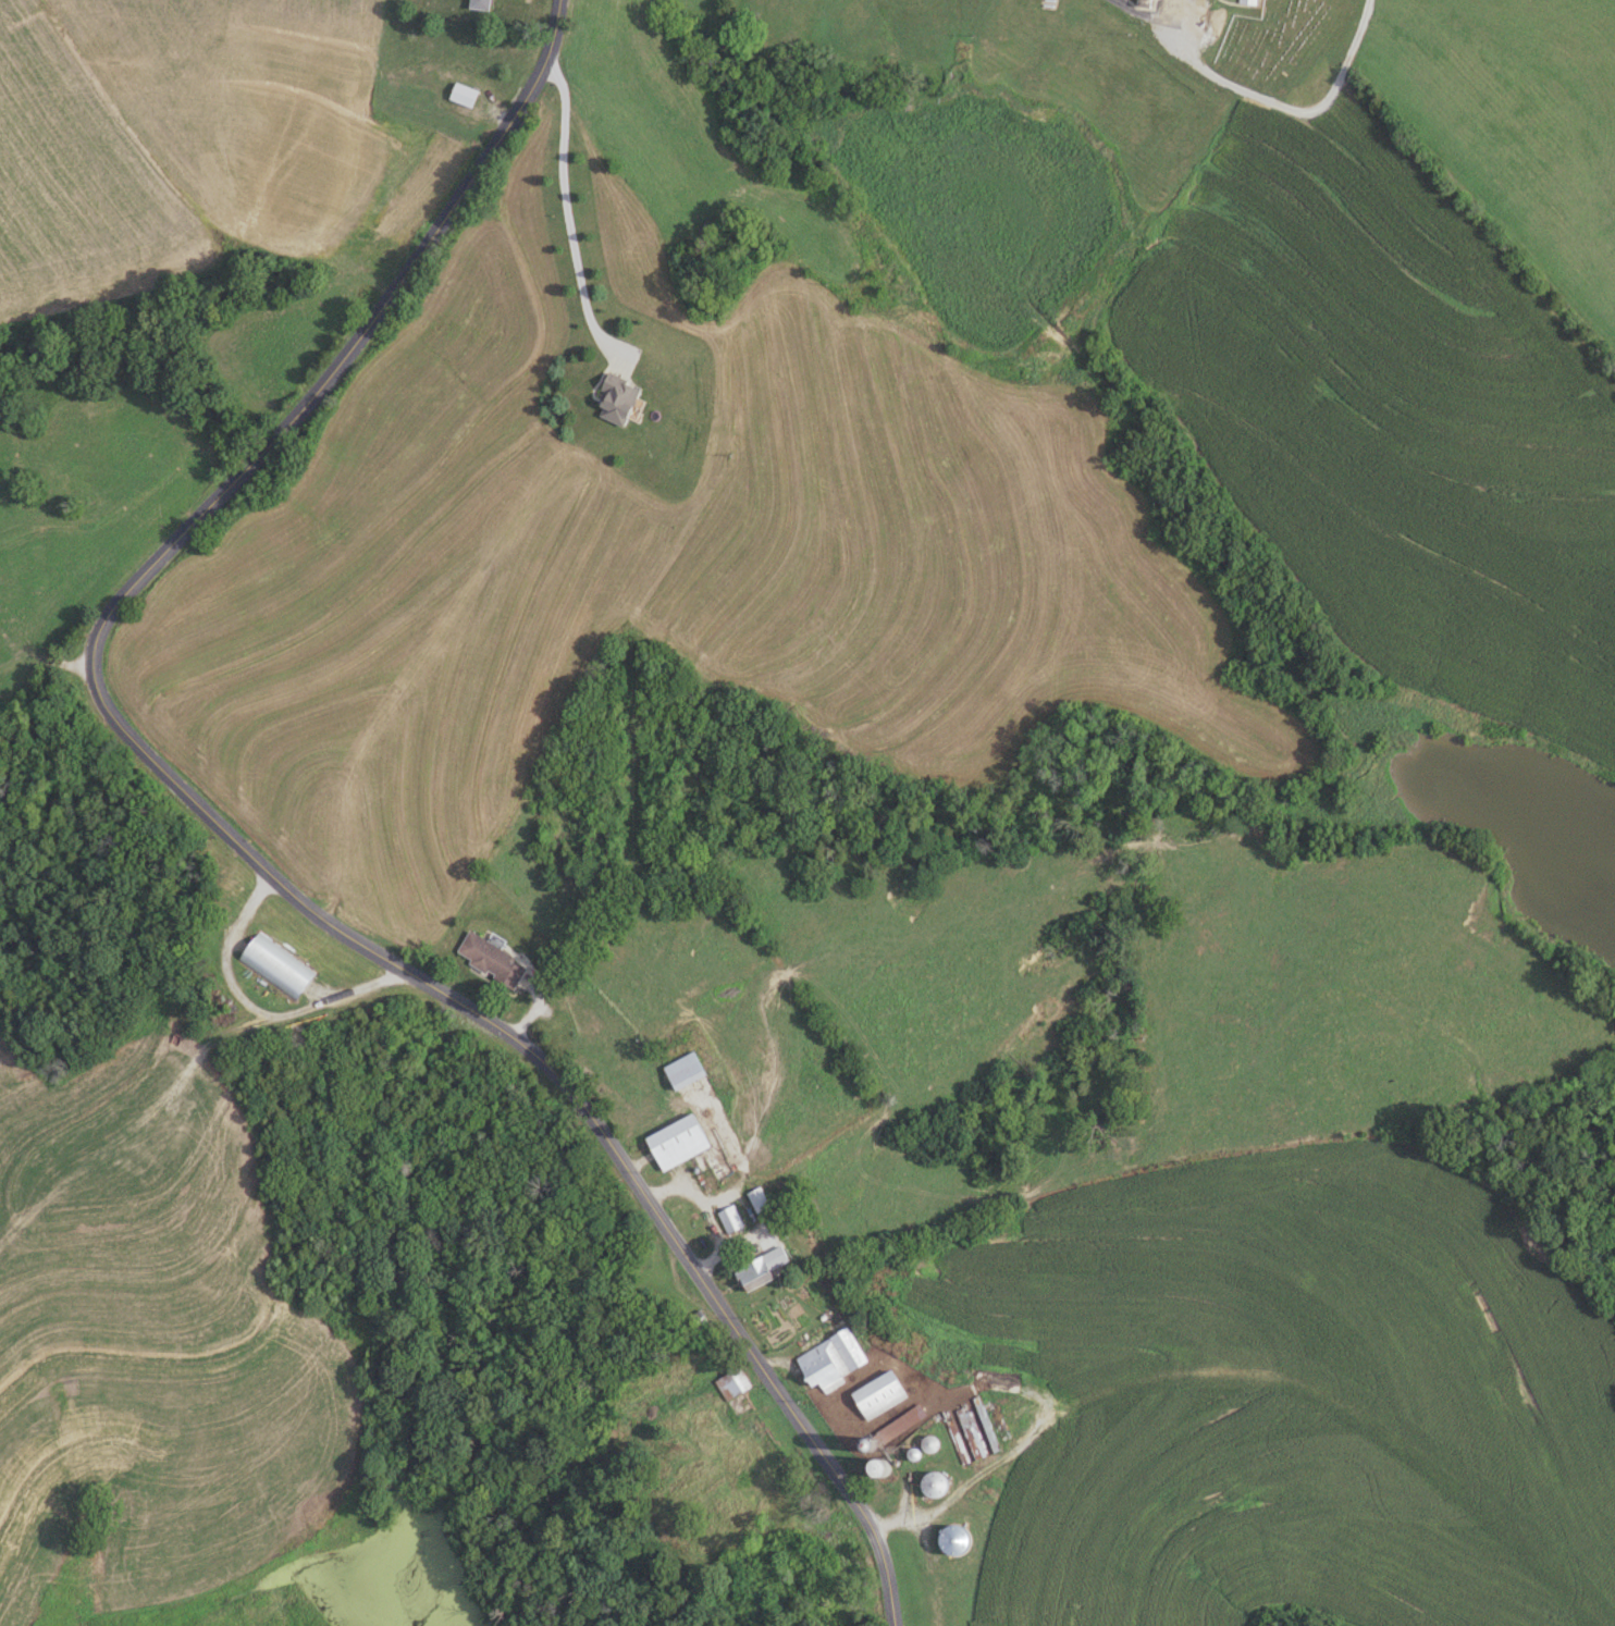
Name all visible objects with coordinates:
building: (1249, 2)
building: (484, 5)
road: (1138, 12)
park: (1284, 42)
building: (465, 96)
road: (566, 215)
building: (620, 402)
road: (227, 839)
building: (493, 960)
building: (276, 968)
road: (249, 1010)
building: (687, 1071)
building: (679, 1142)
building: (759, 1199)
building: (730, 1219)
building: (760, 1269)
building: (834, 1359)
building: (733, 1383)
building: (883, 1394)
building: (932, 1443)
building: (888, 1467)
road: (965, 1469)
building: (938, 1486)

